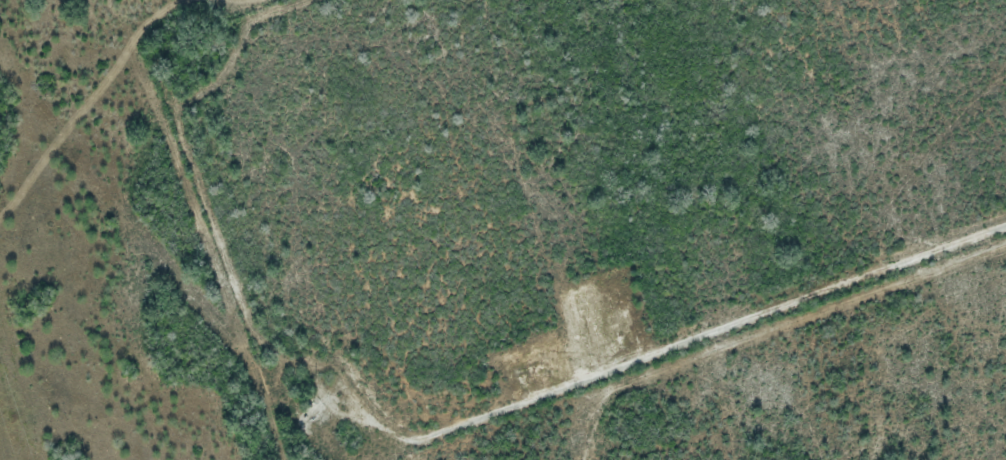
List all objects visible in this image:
road: (674, 342)

